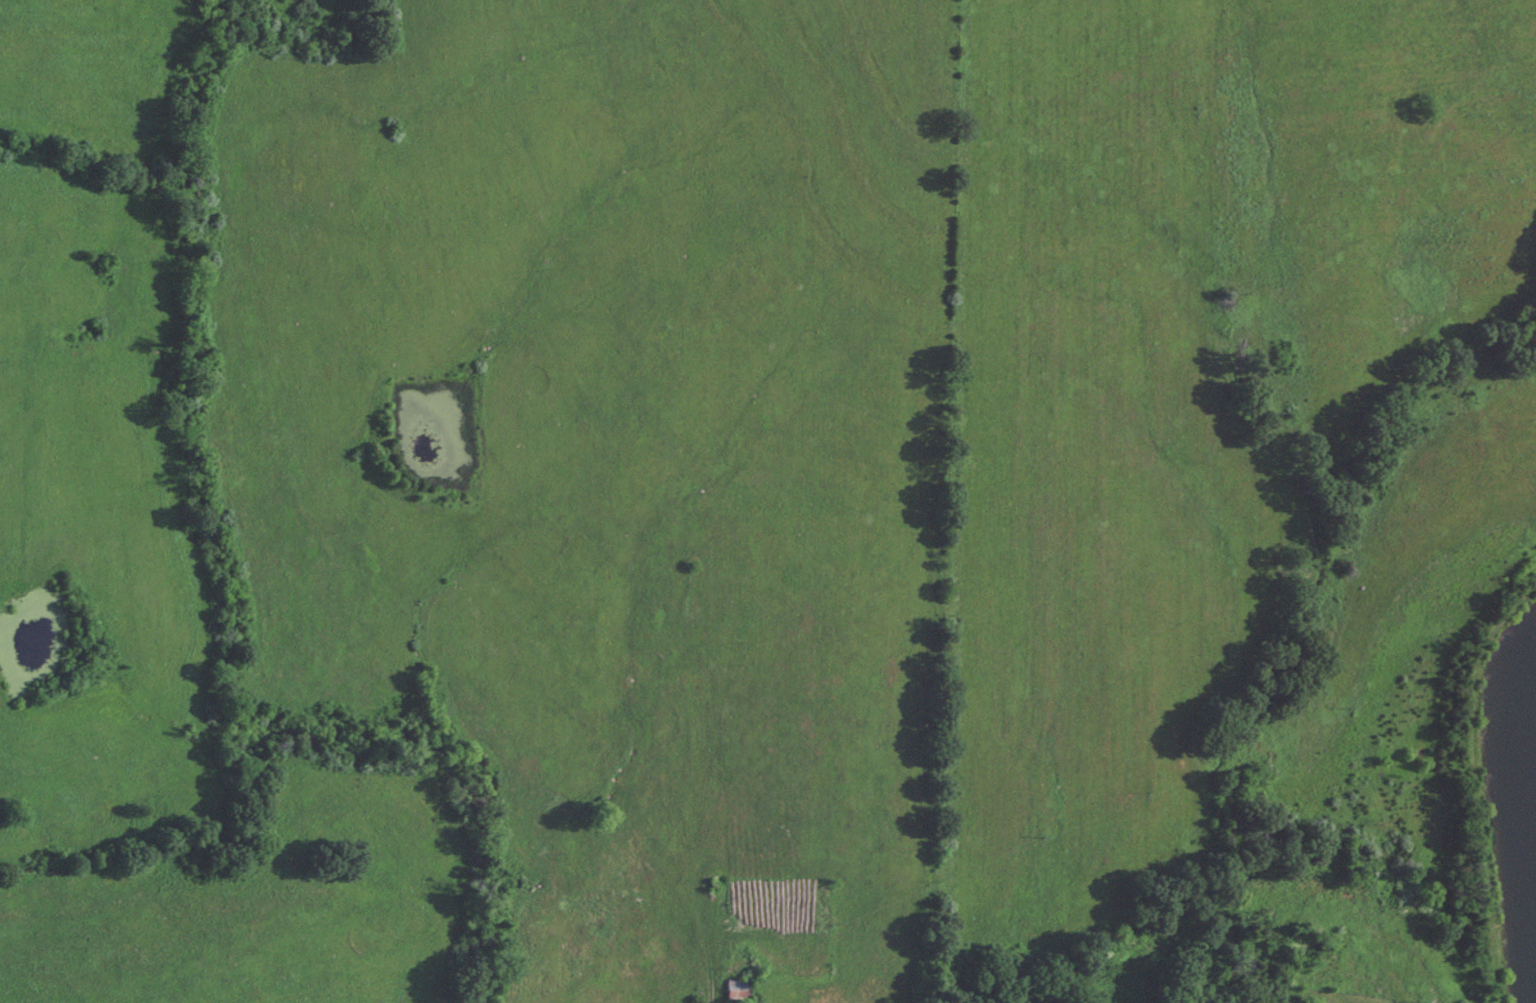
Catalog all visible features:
building: (738, 989)

